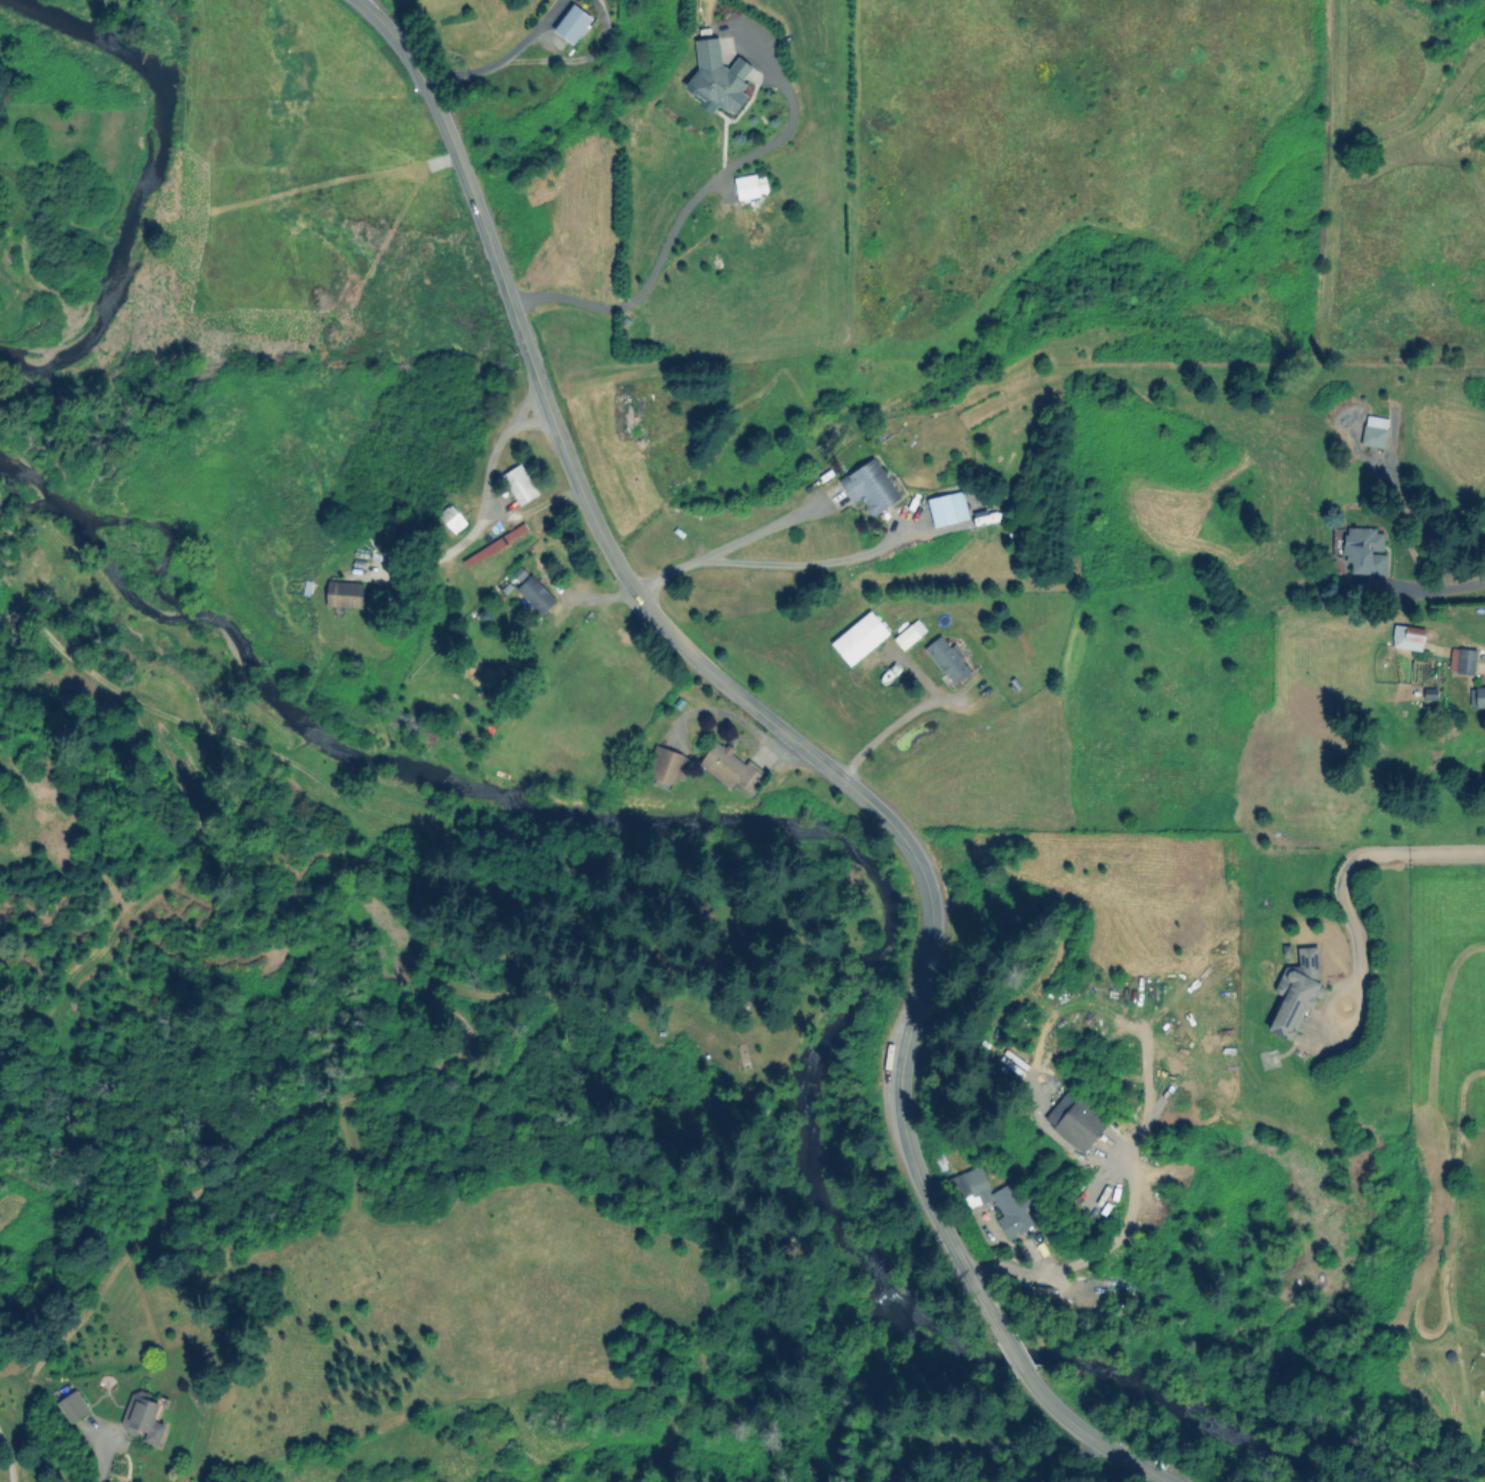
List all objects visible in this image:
building: (572, 23)
road: (502, 58)
building: (718, 75)
building: (749, 185)
road: (671, 234)
building: (1373, 431)
road: (486, 469)
building: (518, 483)
building: (869, 486)
road: (531, 508)
building: (946, 508)
road: (732, 543)
building: (494, 545)
building: (1363, 550)
road: (1432, 588)
building: (343, 593)
building: (534, 593)
building: (909, 633)
building: (858, 637)
building: (1406, 637)
building: (946, 658)
building: (1461, 660)
road: (716, 675)
building: (1476, 696)
road: (895, 730)
building: (662, 767)
building: (731, 768)
road: (1355, 859)
building: (1295, 991)
building: (1074, 1120)
building: (994, 1199)
road: (1089, 1257)
road: (1012, 1353)
building: (71, 1405)
building: (143, 1415)
road: (1090, 1436)
road: (102, 1462)

